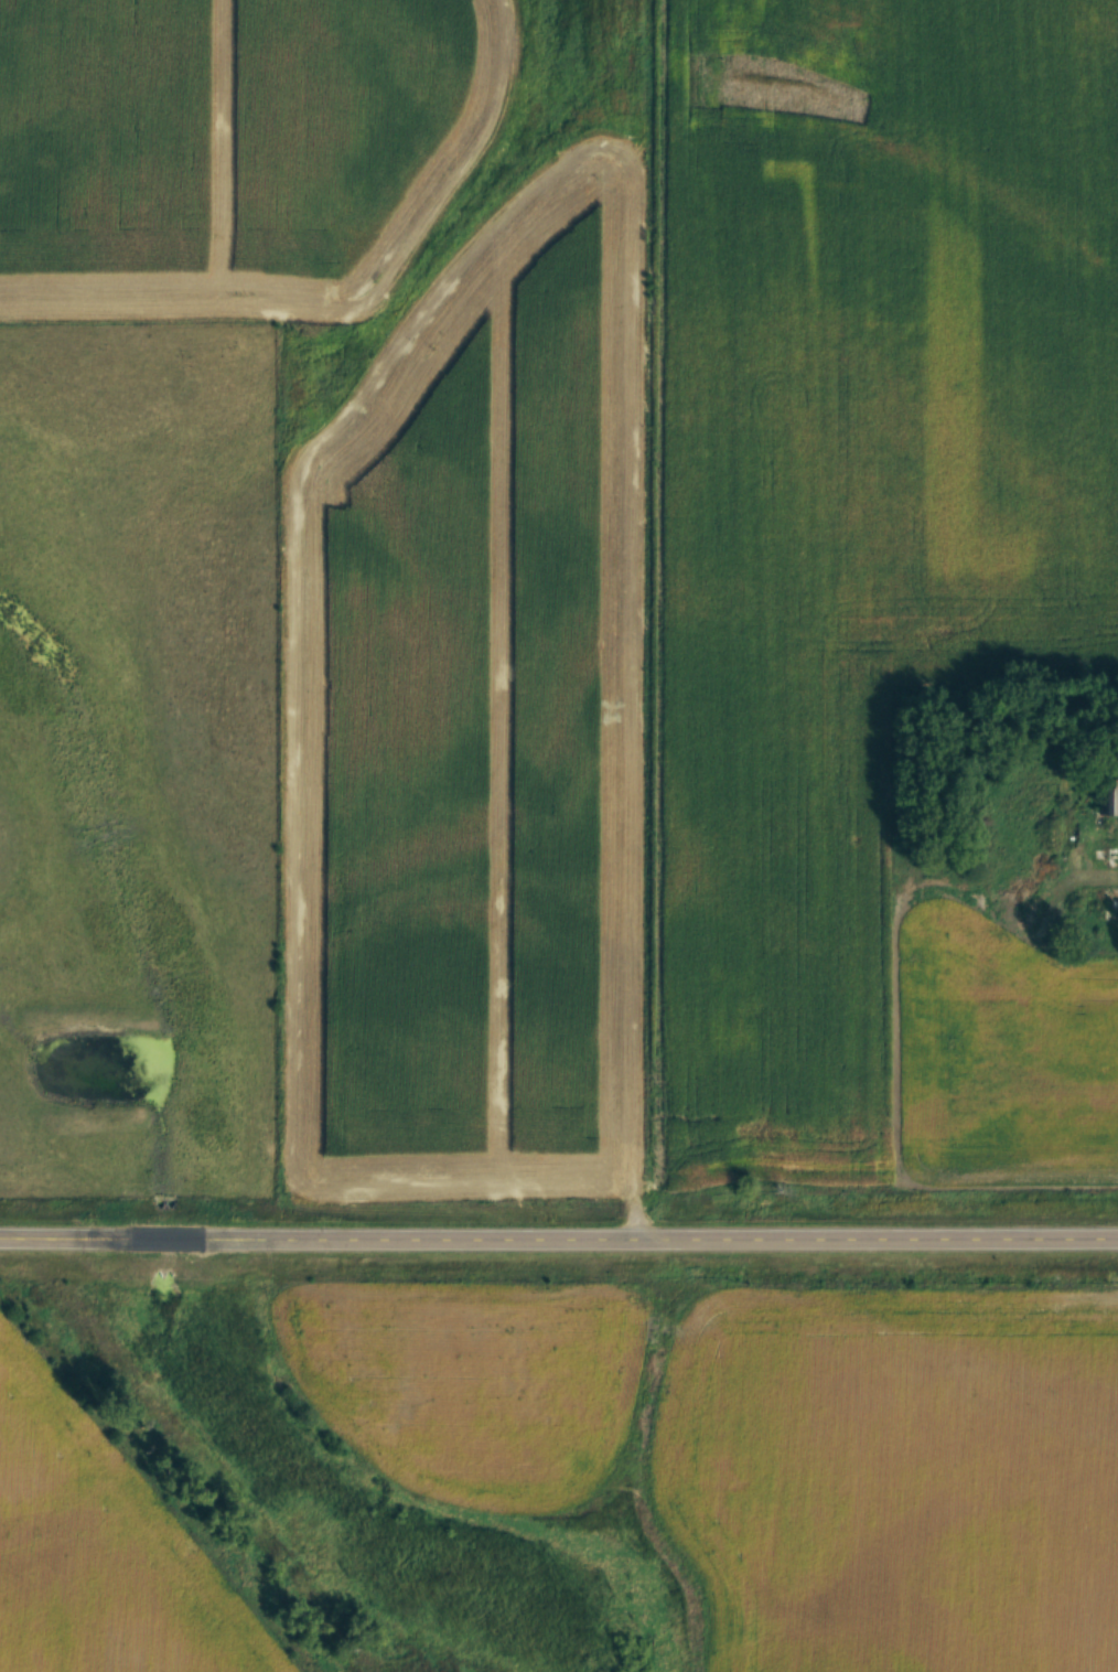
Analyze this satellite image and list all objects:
road: (559, 1232)

